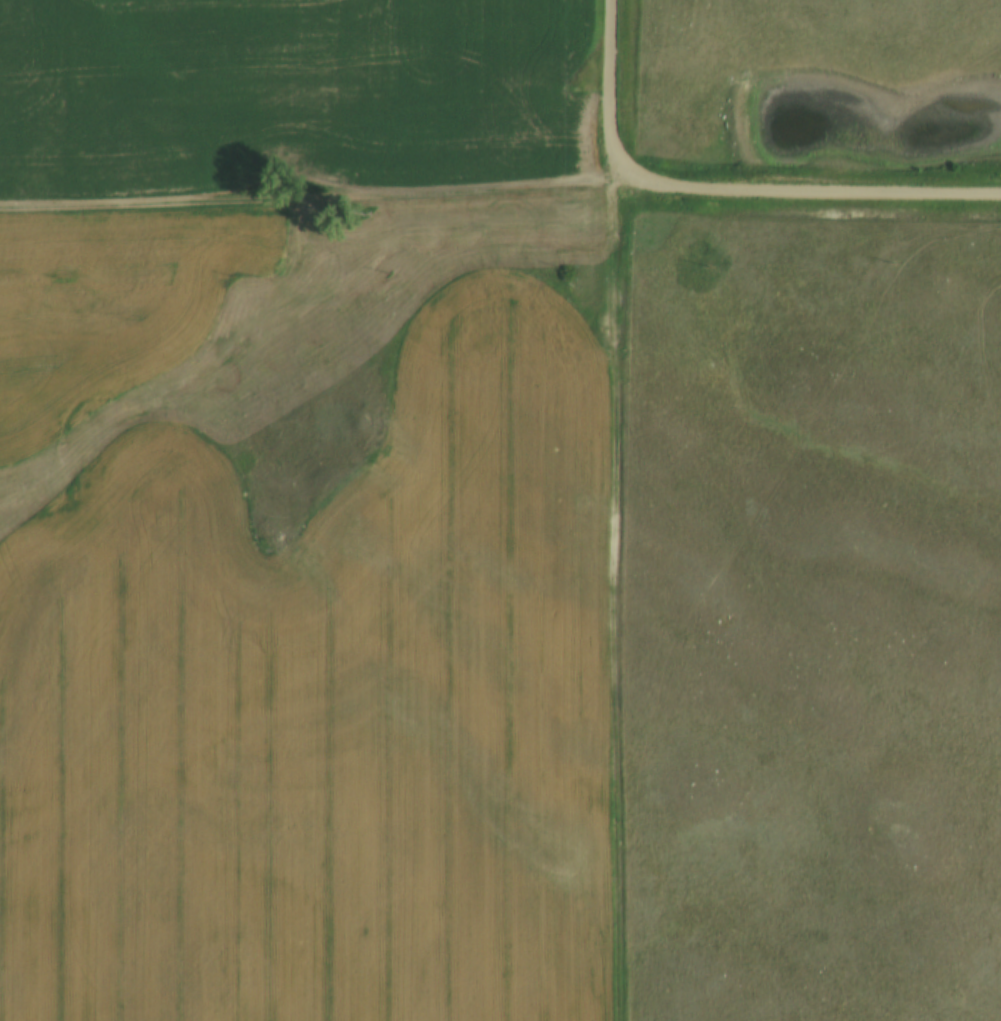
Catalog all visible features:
road: (615, 92)
road: (500, 186)
road: (614, 602)

